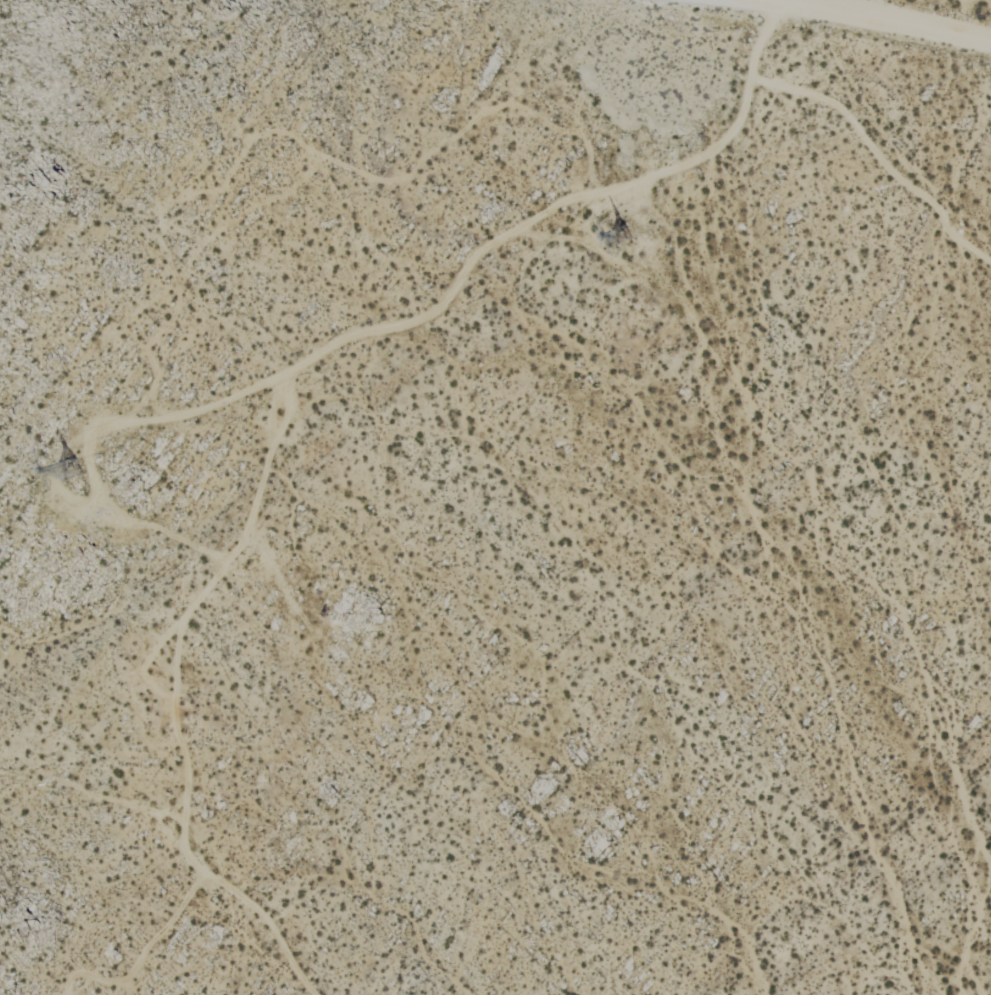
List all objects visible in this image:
road: (763, 1)
road: (881, 20)
power tower: (628, 240)
power tower: (73, 474)

